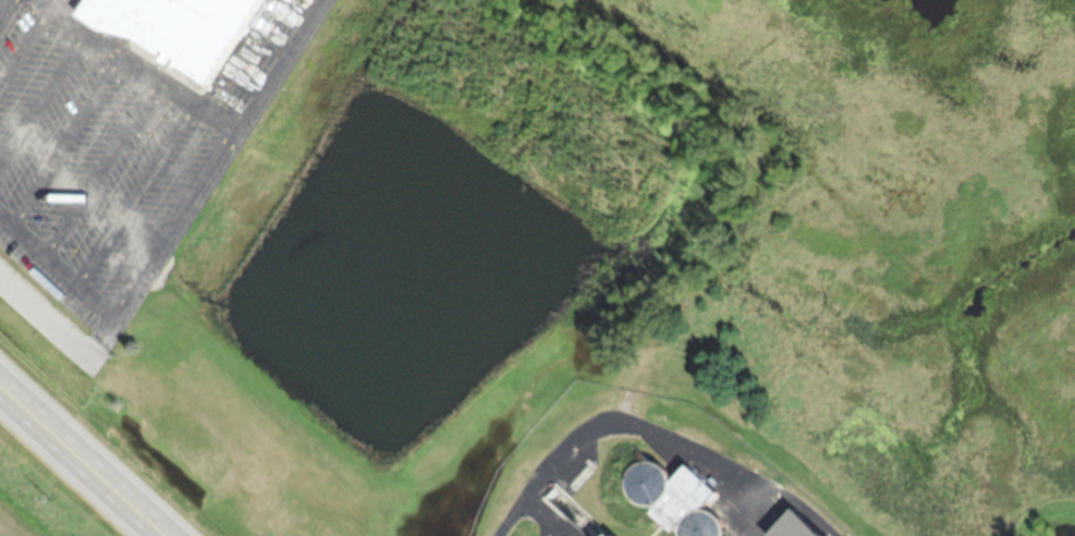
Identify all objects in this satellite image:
building: (175, 35)
road: (141, 65)
road: (199, 181)
road: (57, 261)
road: (46, 327)
road: (76, 465)
park: (44, 495)
building: (671, 503)
building: (790, 529)

